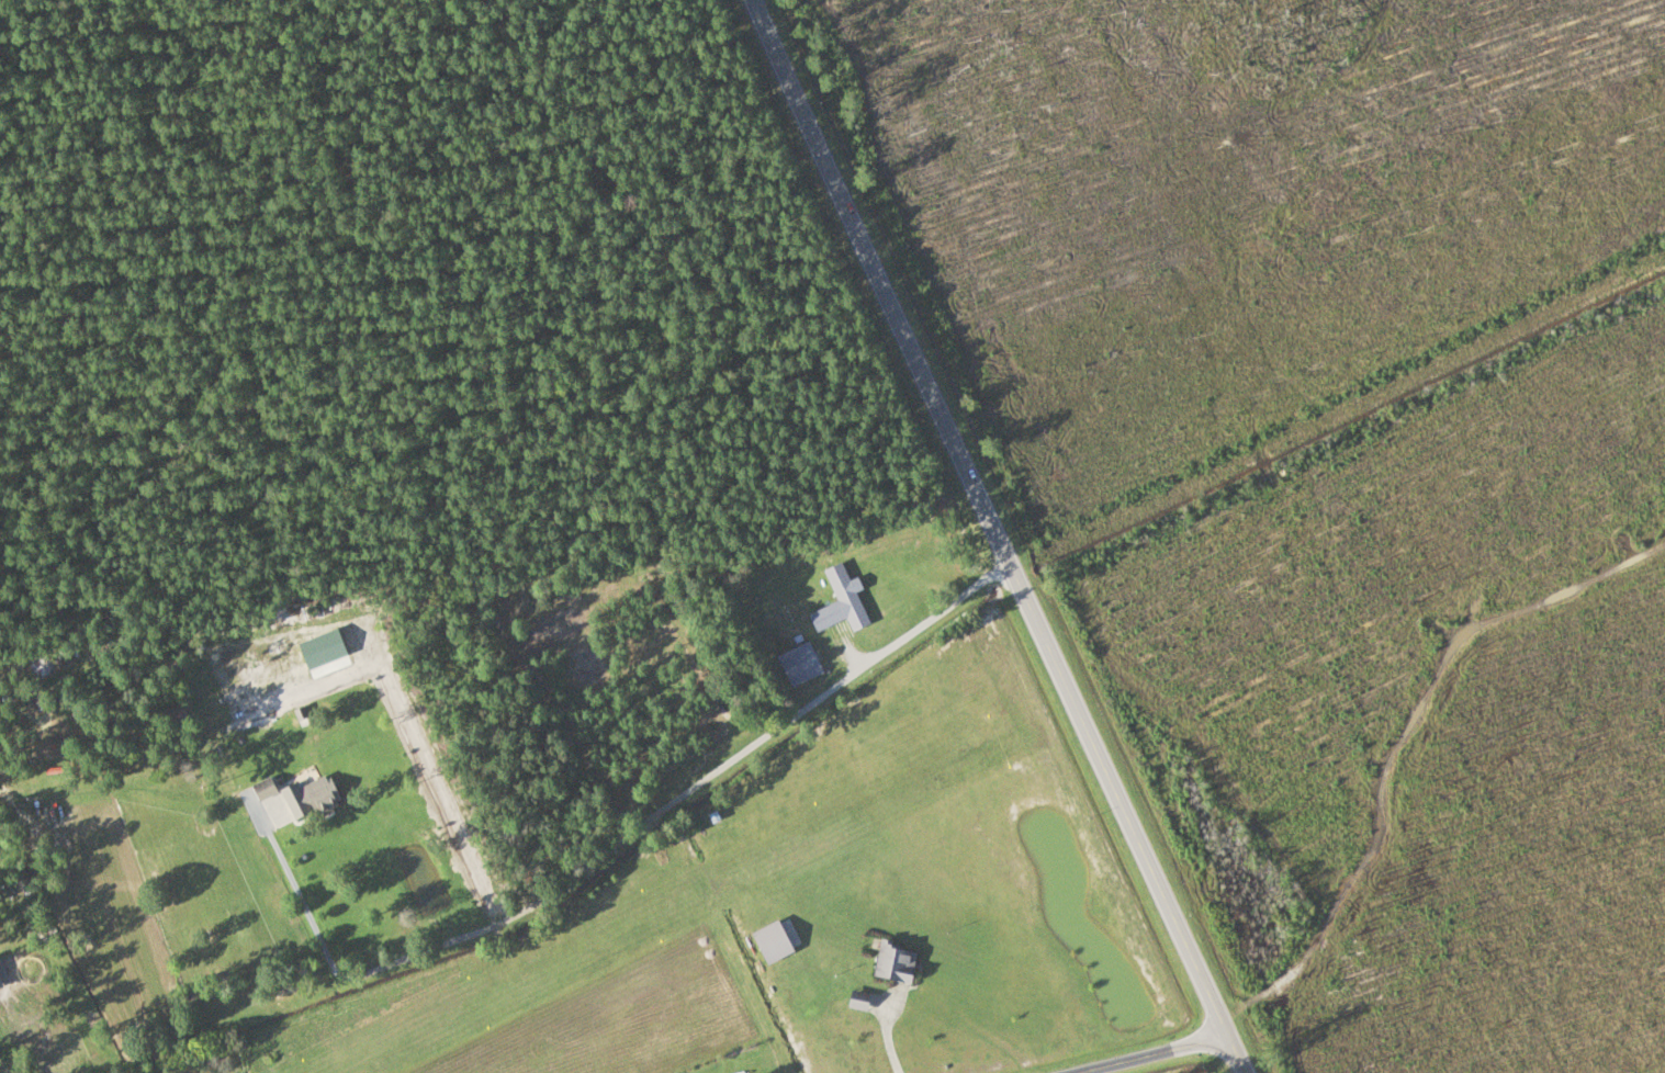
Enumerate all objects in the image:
road: (997, 535)
building: (841, 602)
building: (806, 660)
building: (262, 790)
building: (308, 798)
building: (893, 964)
road: (1270, 990)

